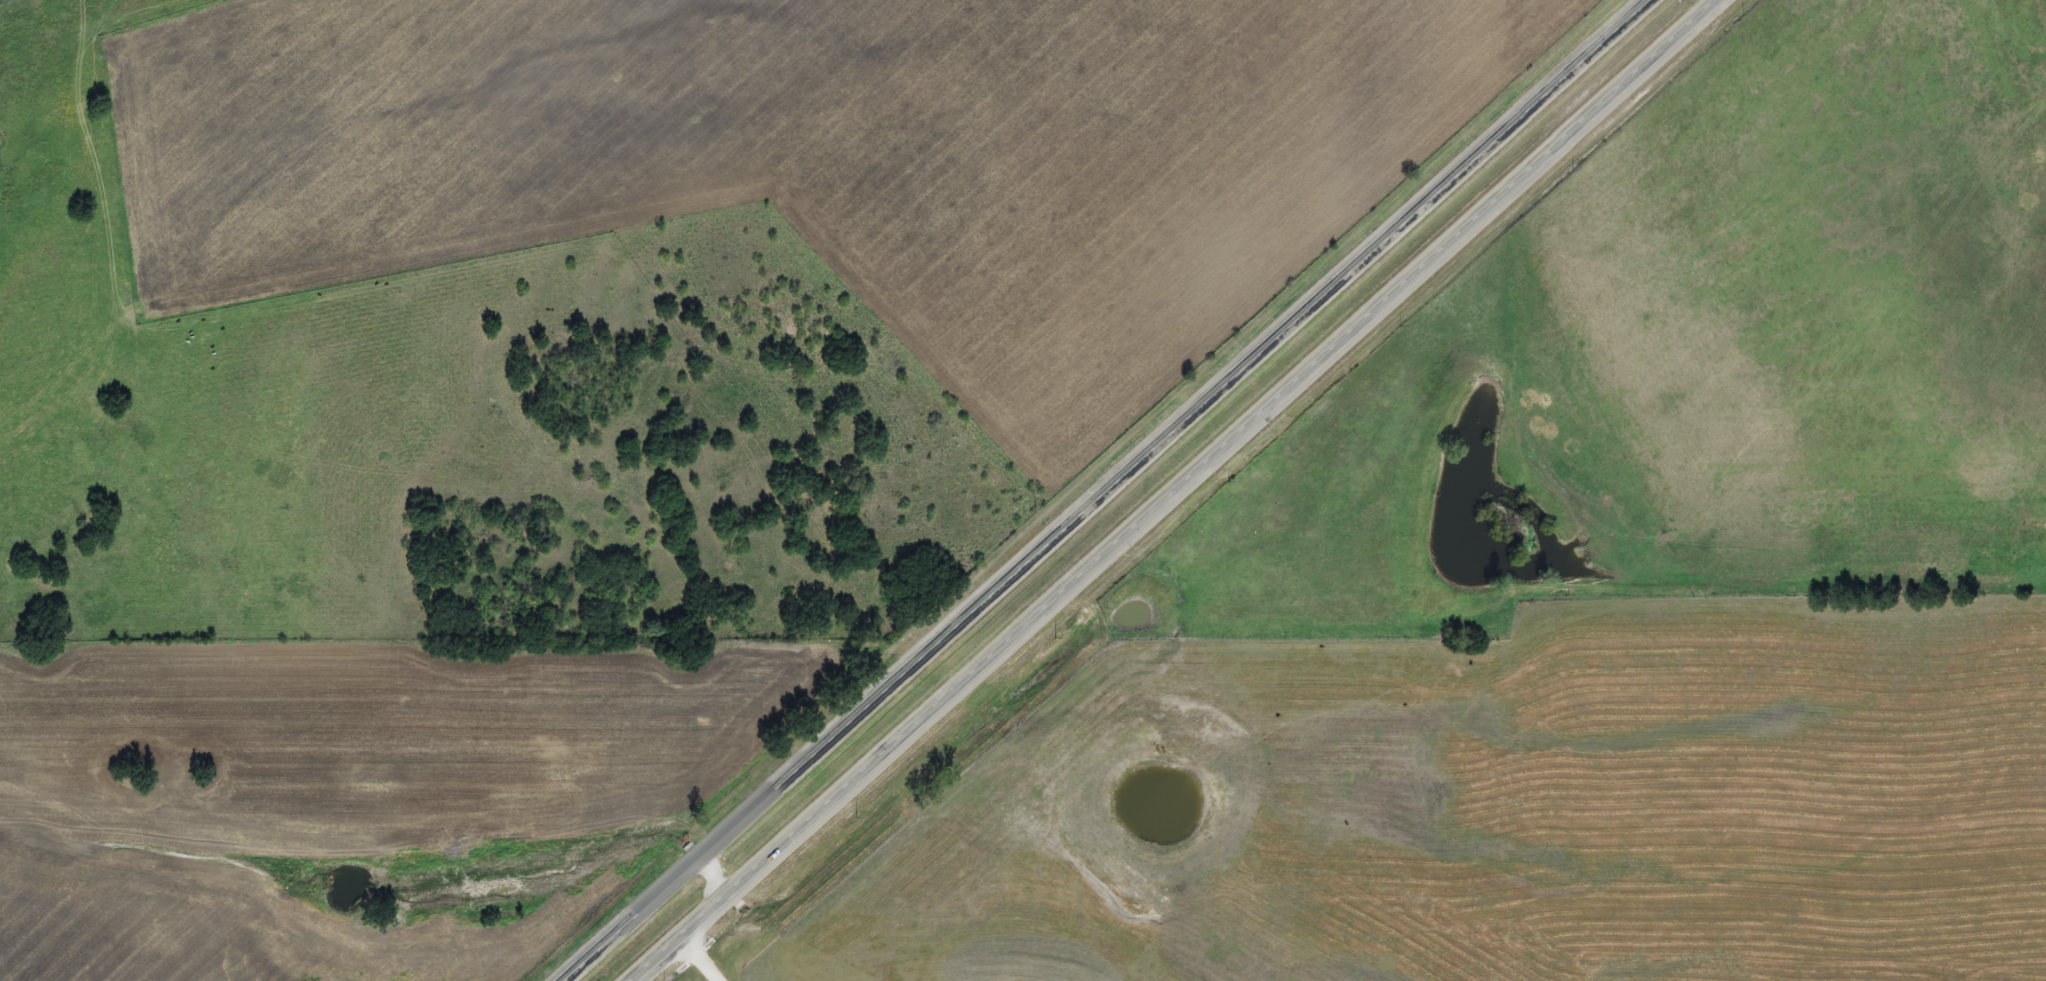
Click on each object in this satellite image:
road: (1183, 490)
road: (1120, 491)

